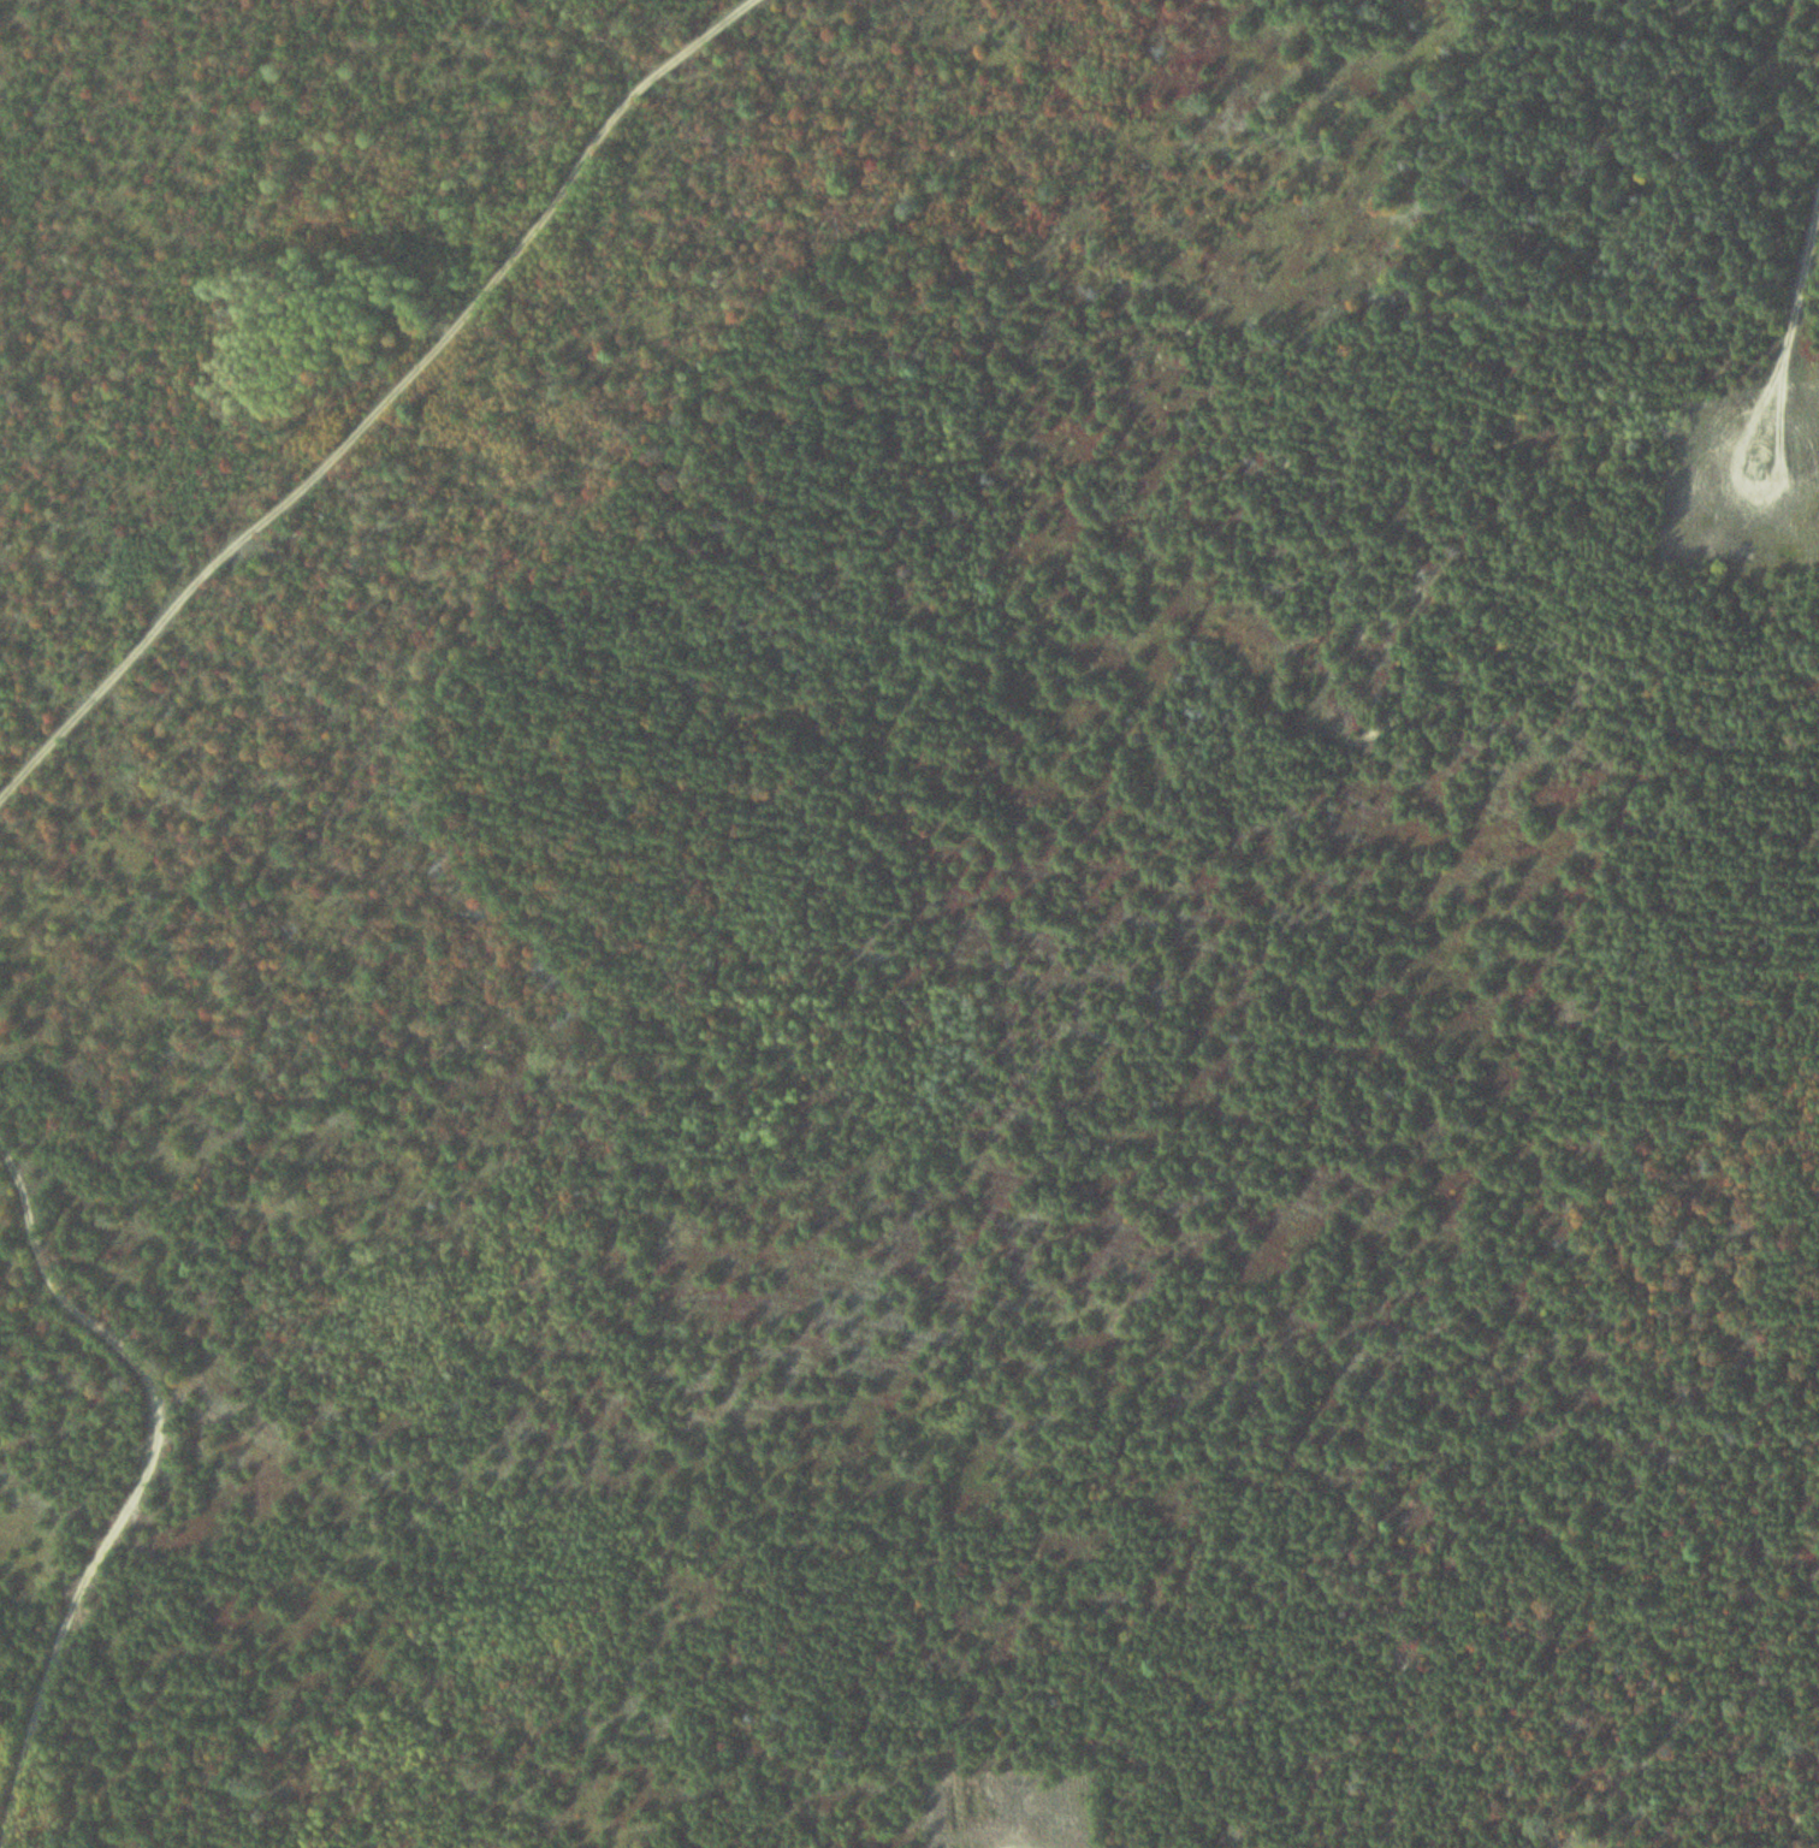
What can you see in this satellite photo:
road: (1800, 314)
road: (377, 403)
petroleum well: (1758, 460)
road: (147, 1463)
road: (1043, 1843)

